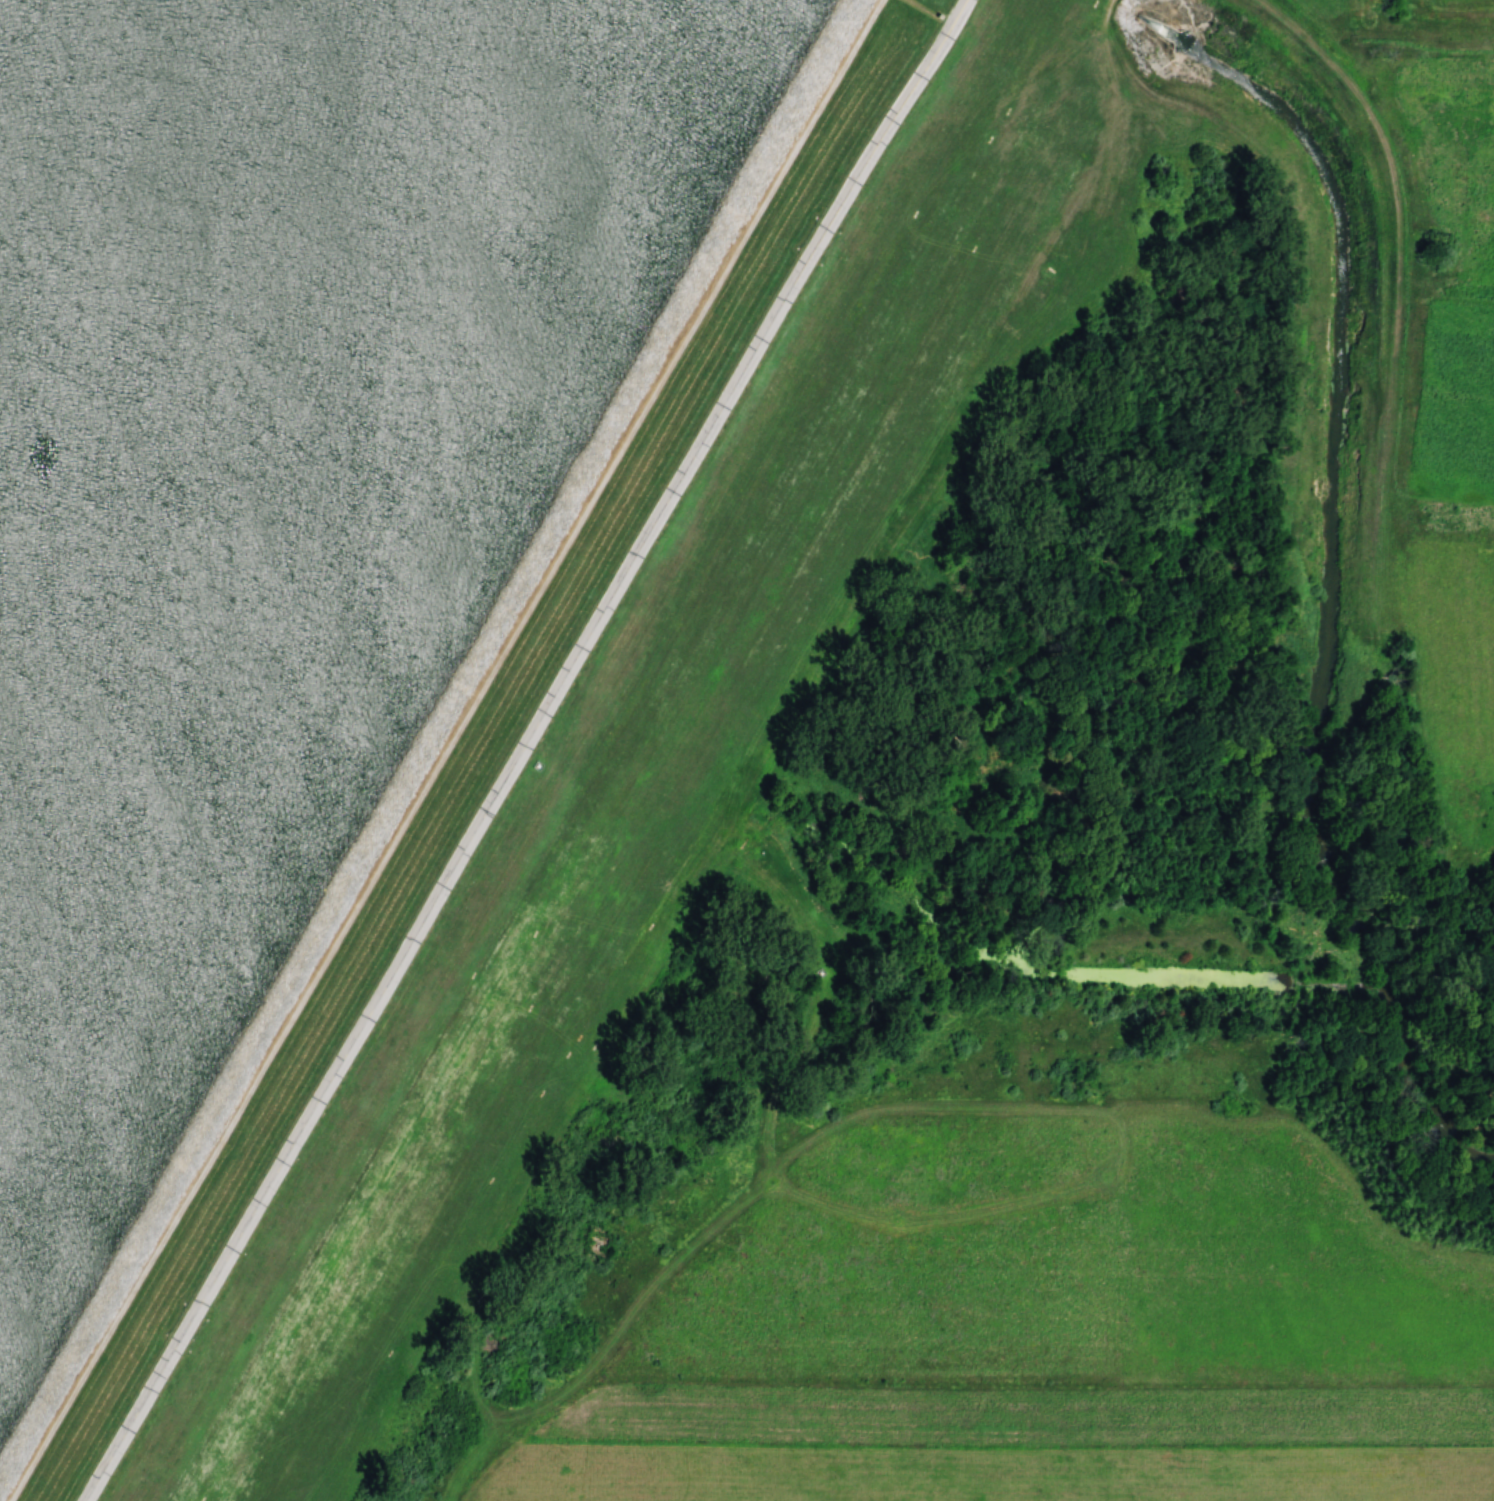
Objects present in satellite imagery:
river: (1122, 10)
road: (712, 424)
park: (322, 541)
river: (1335, 572)
road: (444, 750)
road: (275, 1177)

